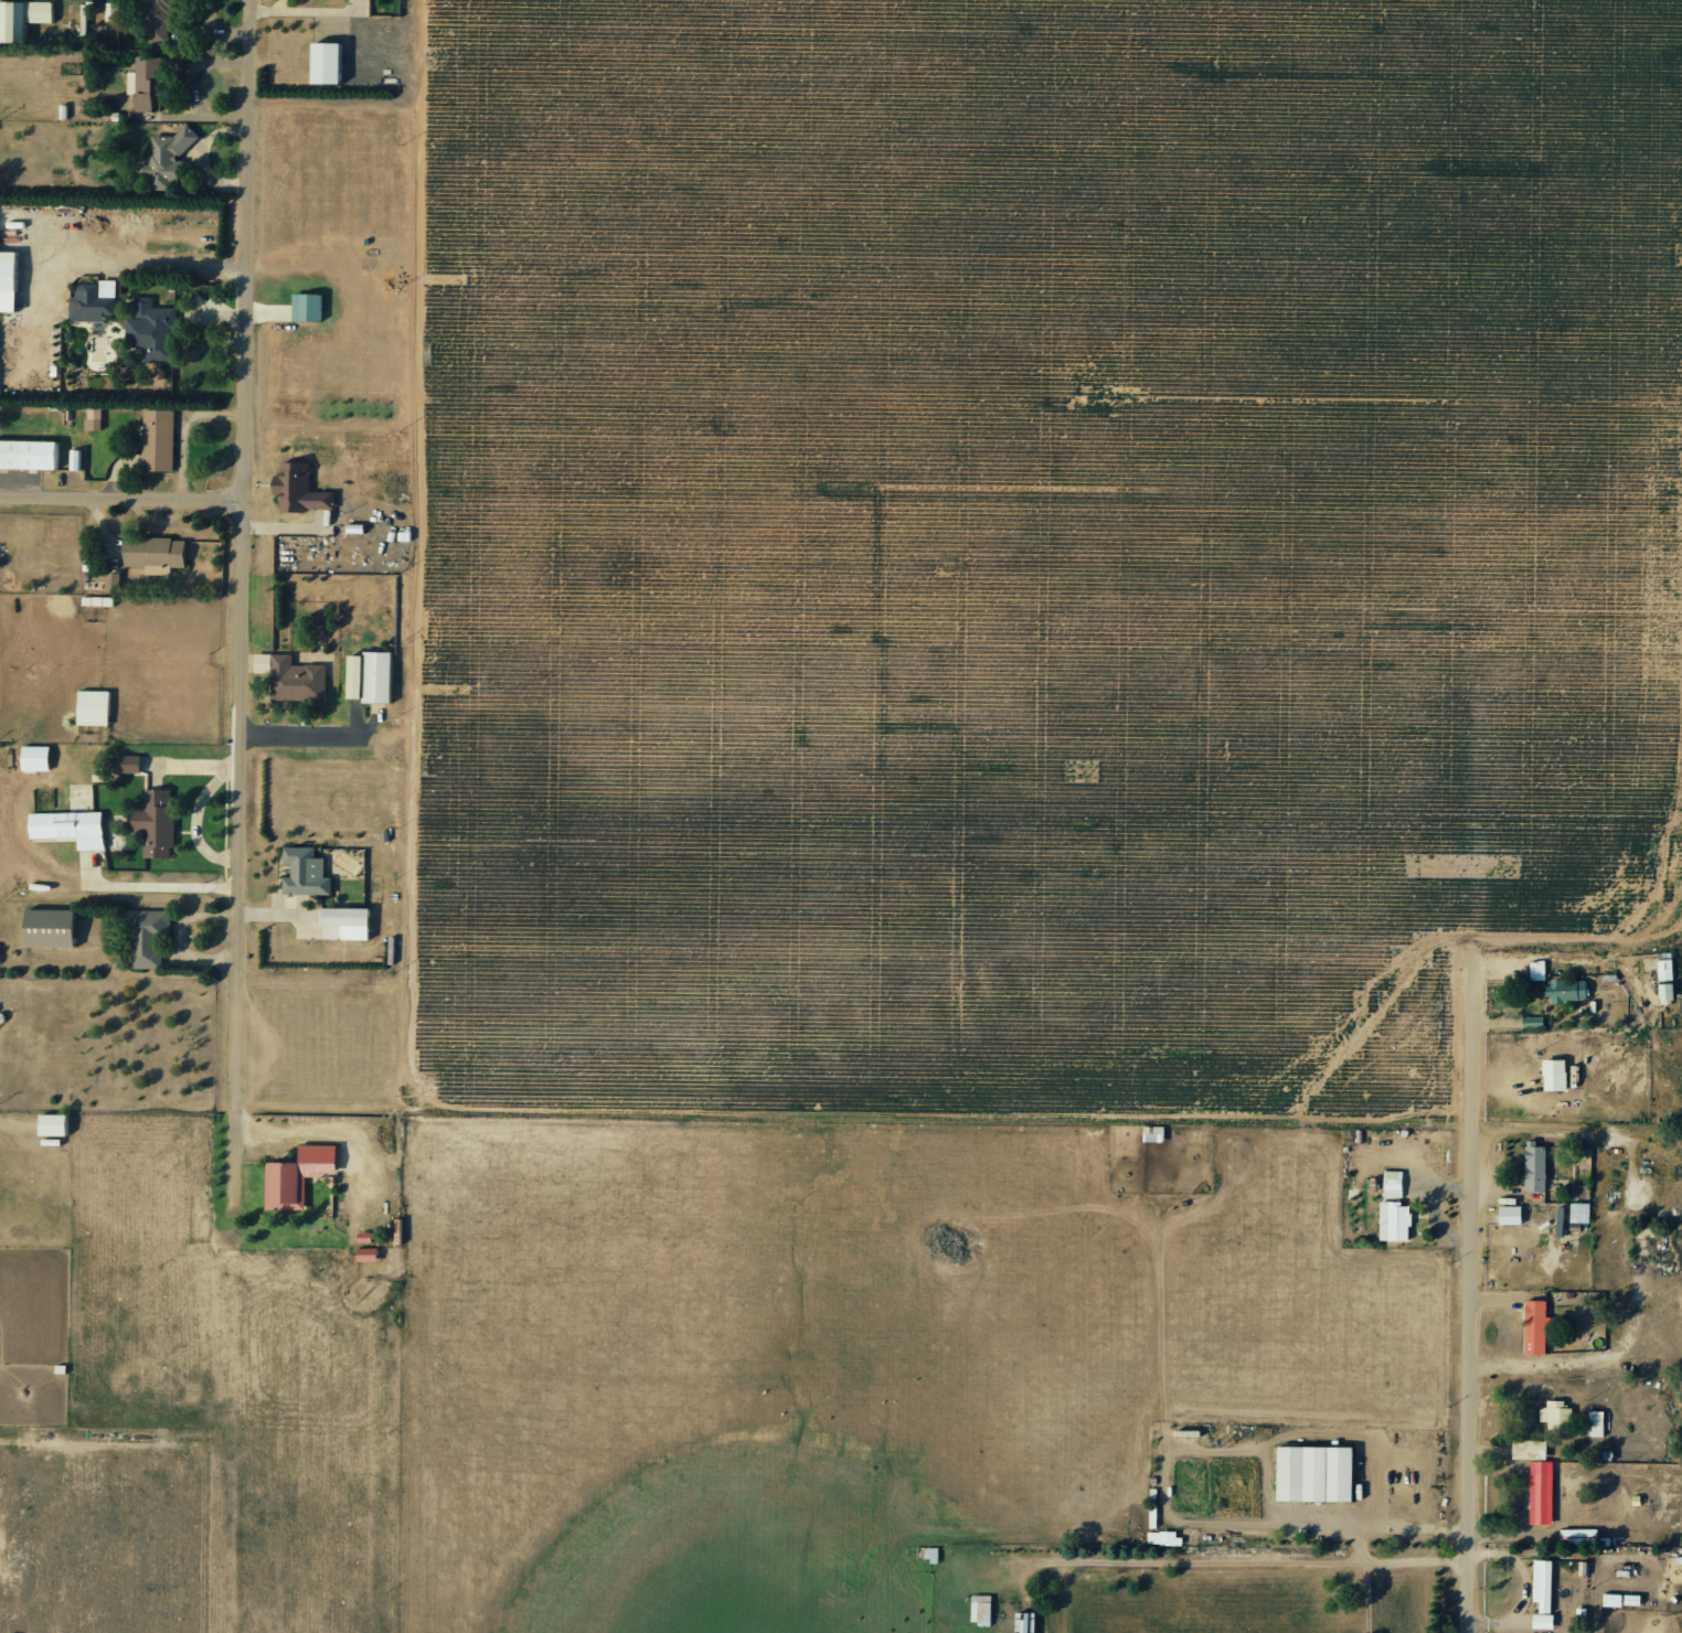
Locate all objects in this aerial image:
building: (21, 18)
building: (95, 19)
building: (158, 19)
building: (326, 63)
building: (143, 82)
building: (166, 158)
building: (8, 281)
building: (93, 301)
building: (305, 307)
building: (151, 331)
building: (93, 418)
building: (157, 440)
building: (29, 455)
building: (299, 490)
road: (124, 501)
building: (153, 552)
road: (248, 555)
building: (291, 677)
building: (353, 677)
building: (376, 677)
building: (93, 708)
building: (34, 759)
building: (129, 764)
road: (233, 816)
building: (156, 823)
building: (68, 828)
building: (305, 873)
building: (344, 924)
building: (47, 929)
building: (147, 938)
building: (1537, 970)
building: (1665, 979)
building: (1566, 990)
road: (1492, 1113)
road: (8, 1122)
building: (58, 1124)
building: (1153, 1133)
building: (1534, 1168)
building: (296, 1175)
building: (1393, 1184)
building: (1579, 1213)
building: (1509, 1215)
building: (1394, 1221)
building: (365, 1255)
building: (1534, 1326)
building: (1556, 1416)
building: (1596, 1422)
building: (1314, 1473)
building: (1540, 1492)
building: (1163, 1537)
building: (1542, 1584)
building: (1611, 1599)
building: (980, 1609)
building: (1542, 1621)
building: (1025, 1622)

